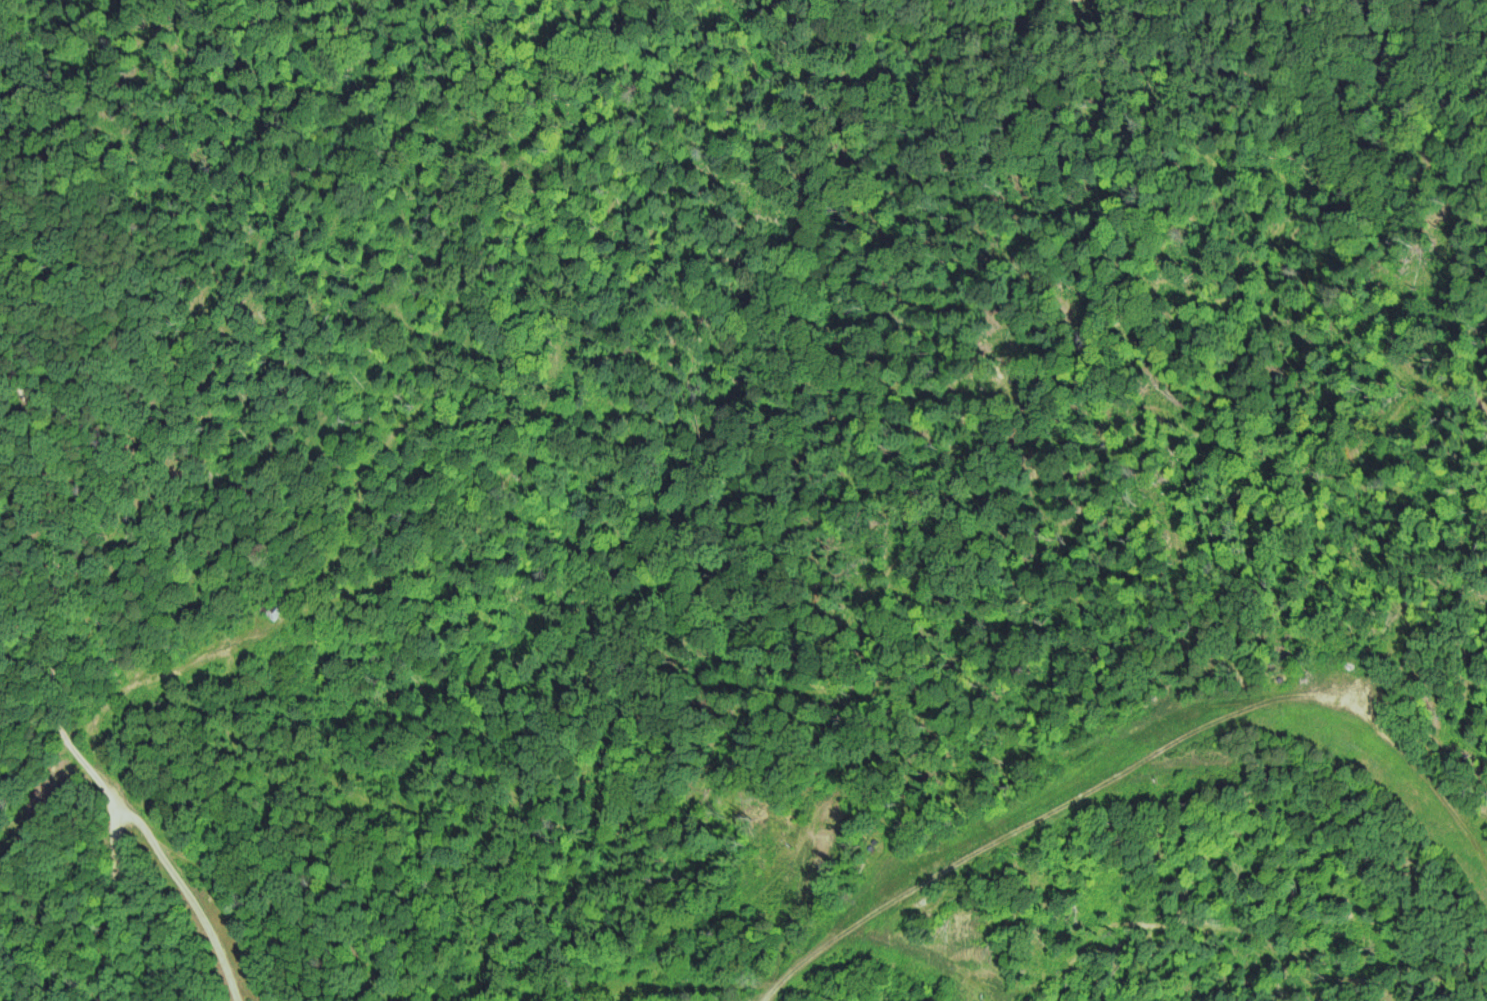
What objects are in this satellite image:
road: (77, 627)
road: (189, 895)

